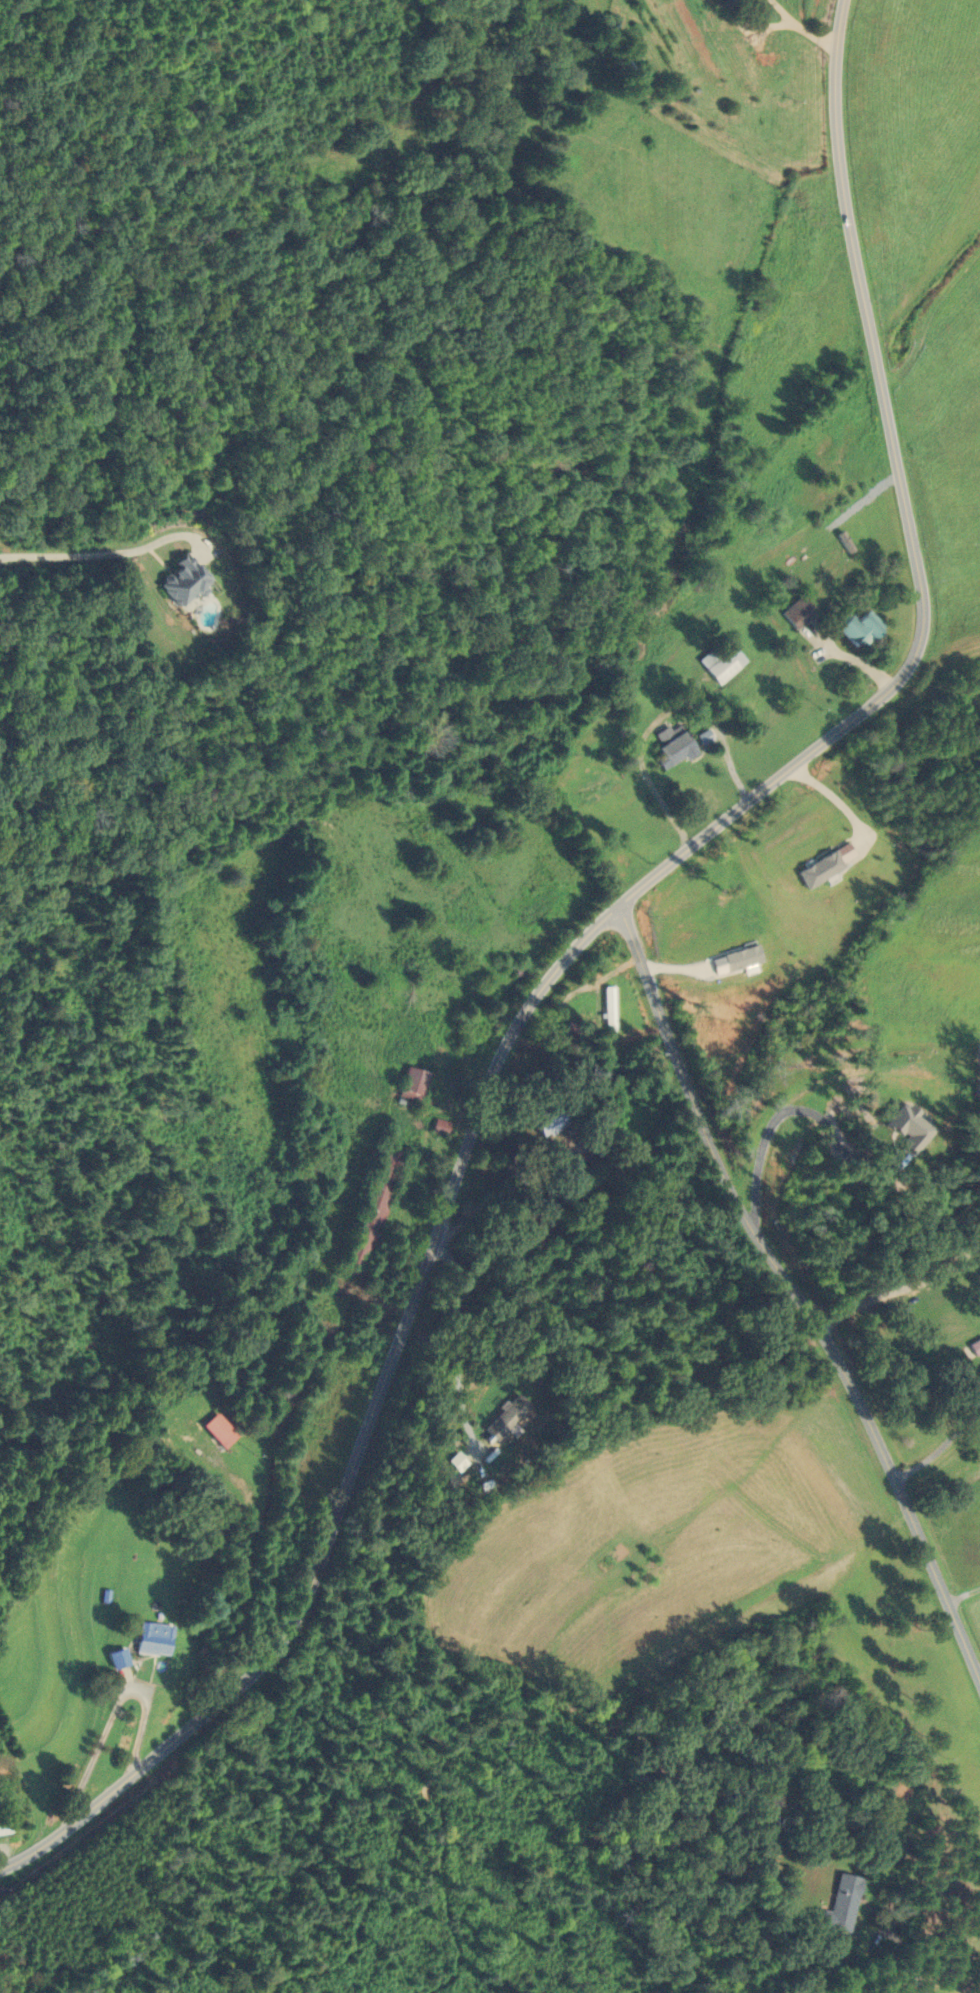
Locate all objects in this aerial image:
building: (731, 1)
road: (802, 28)
building: (773, 55)
building: (623, 63)
road: (112, 554)
building: (179, 580)
building: (796, 612)
building: (858, 628)
road: (849, 658)
building: (719, 660)
building: (672, 745)
road: (571, 948)
building: (607, 1008)
building: (411, 1085)
building: (544, 1119)
road: (775, 1120)
building: (441, 1128)
building: (371, 1209)
road: (899, 1288)
road: (793, 1292)
building: (979, 1368)
building: (504, 1418)
building: (217, 1430)
road: (939, 1447)
road: (963, 1594)
building: (151, 1639)
building: (115, 1659)
road: (112, 1714)
building: (3, 1830)
building: (842, 1902)
road: (905, 1963)

